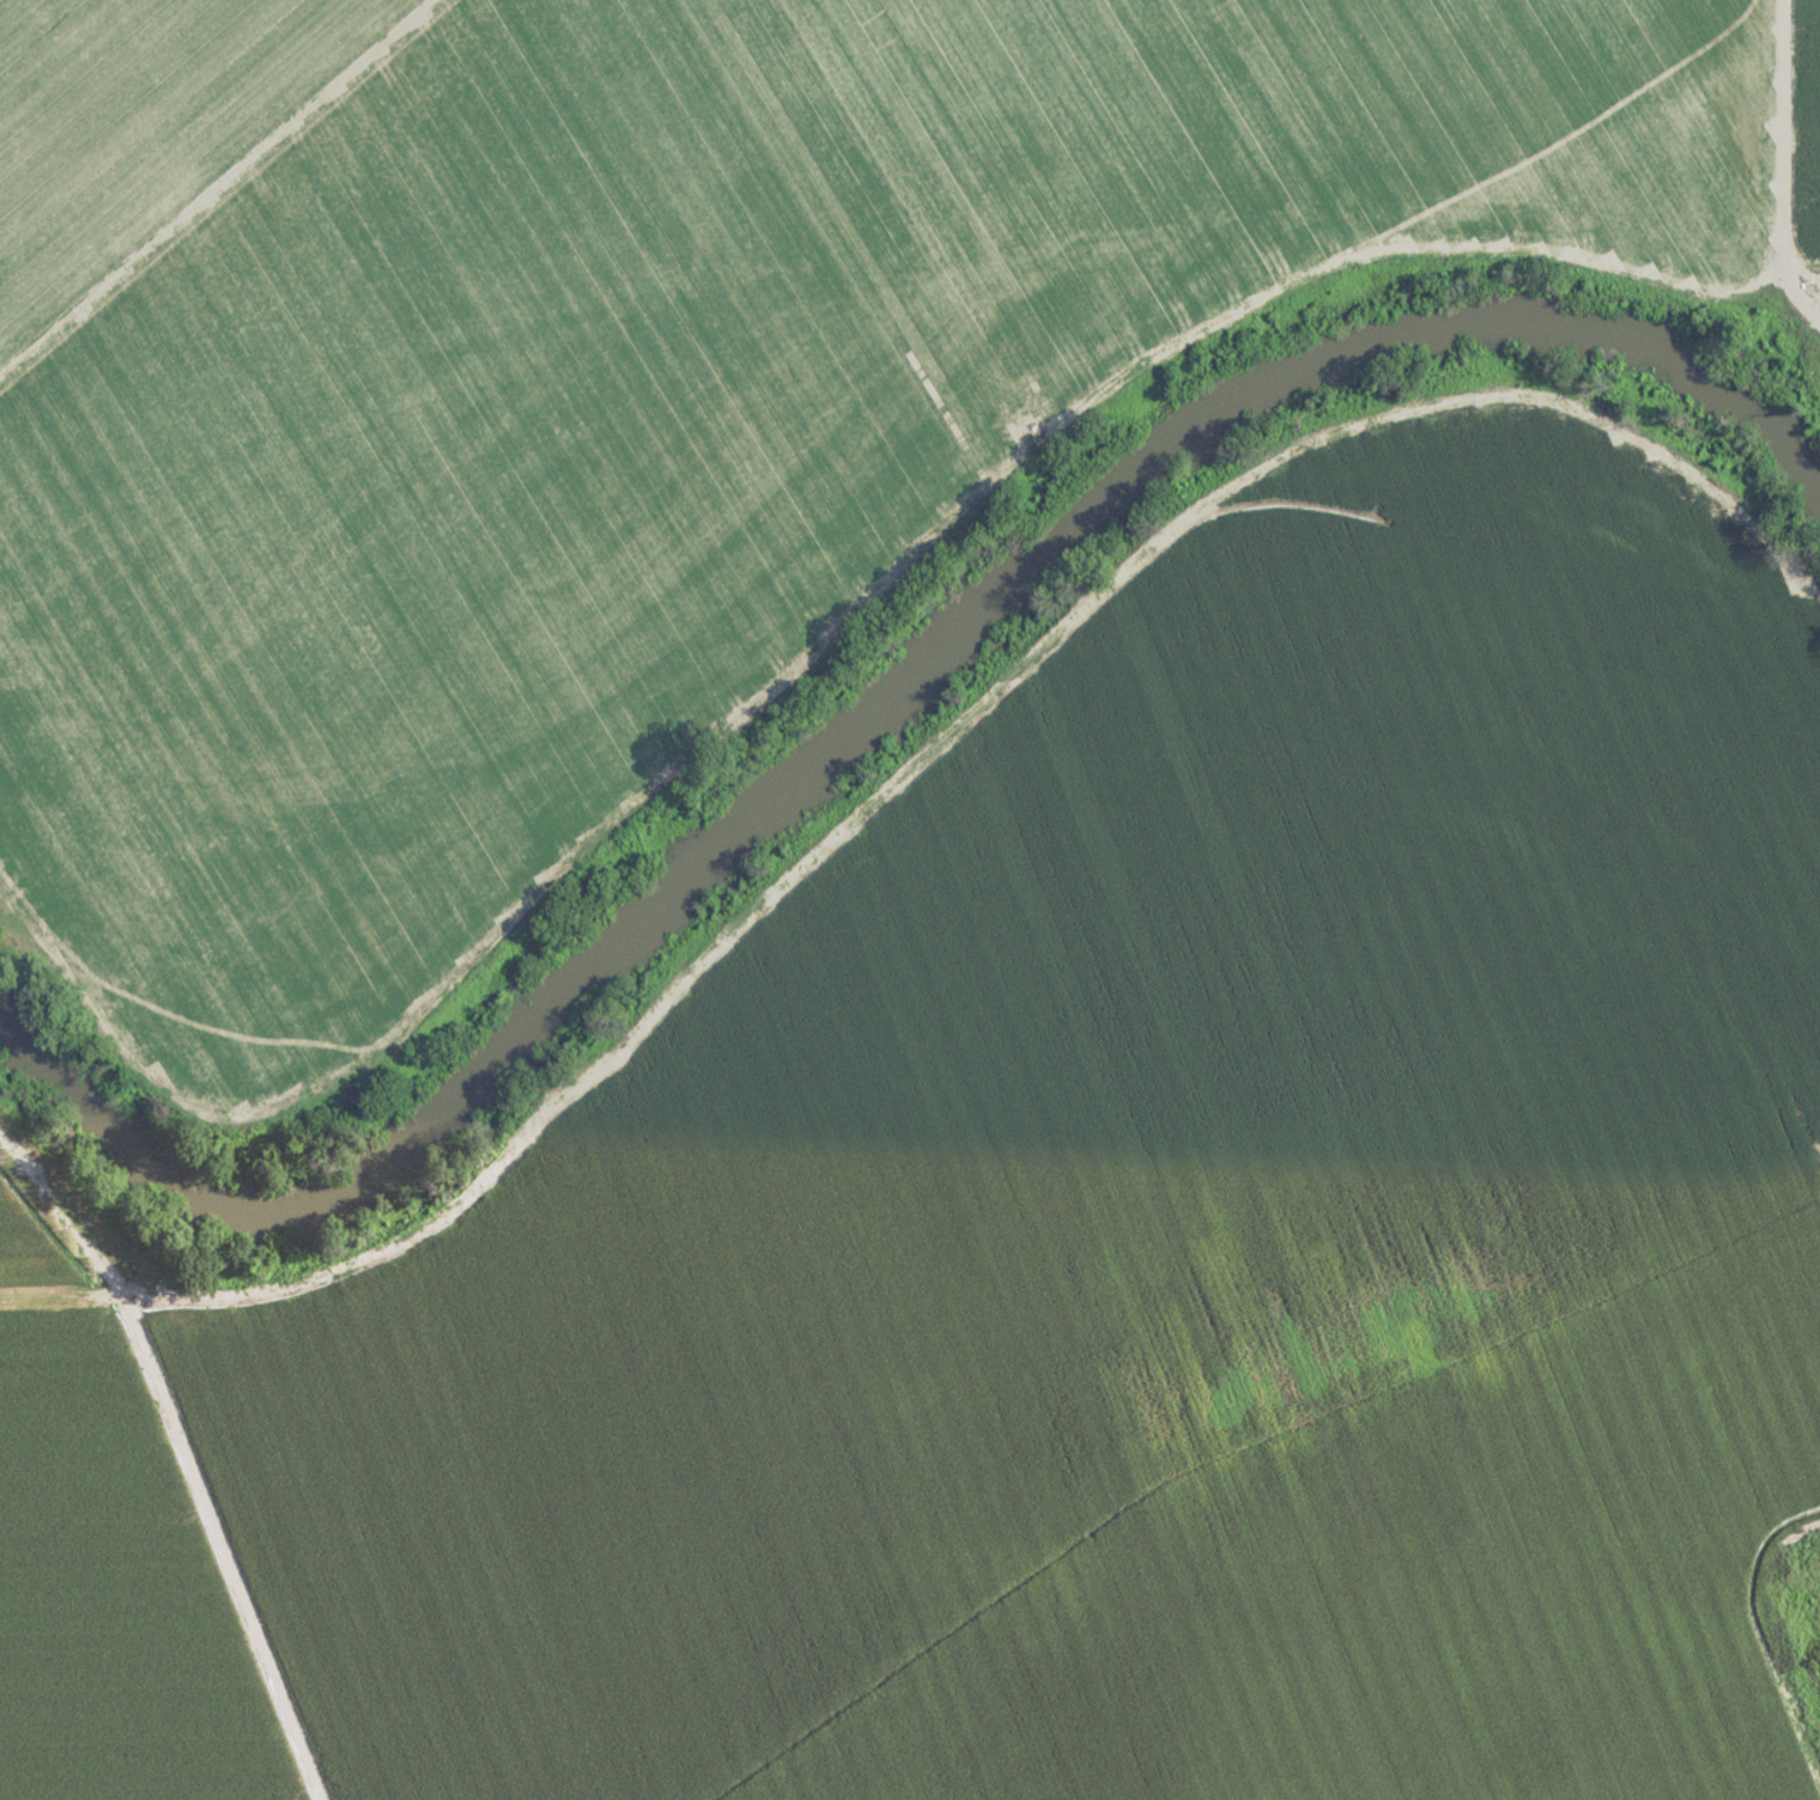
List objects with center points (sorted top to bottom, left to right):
road: (219, 190)
road: (848, 624)
river: (873, 712)
road: (180, 1454)

